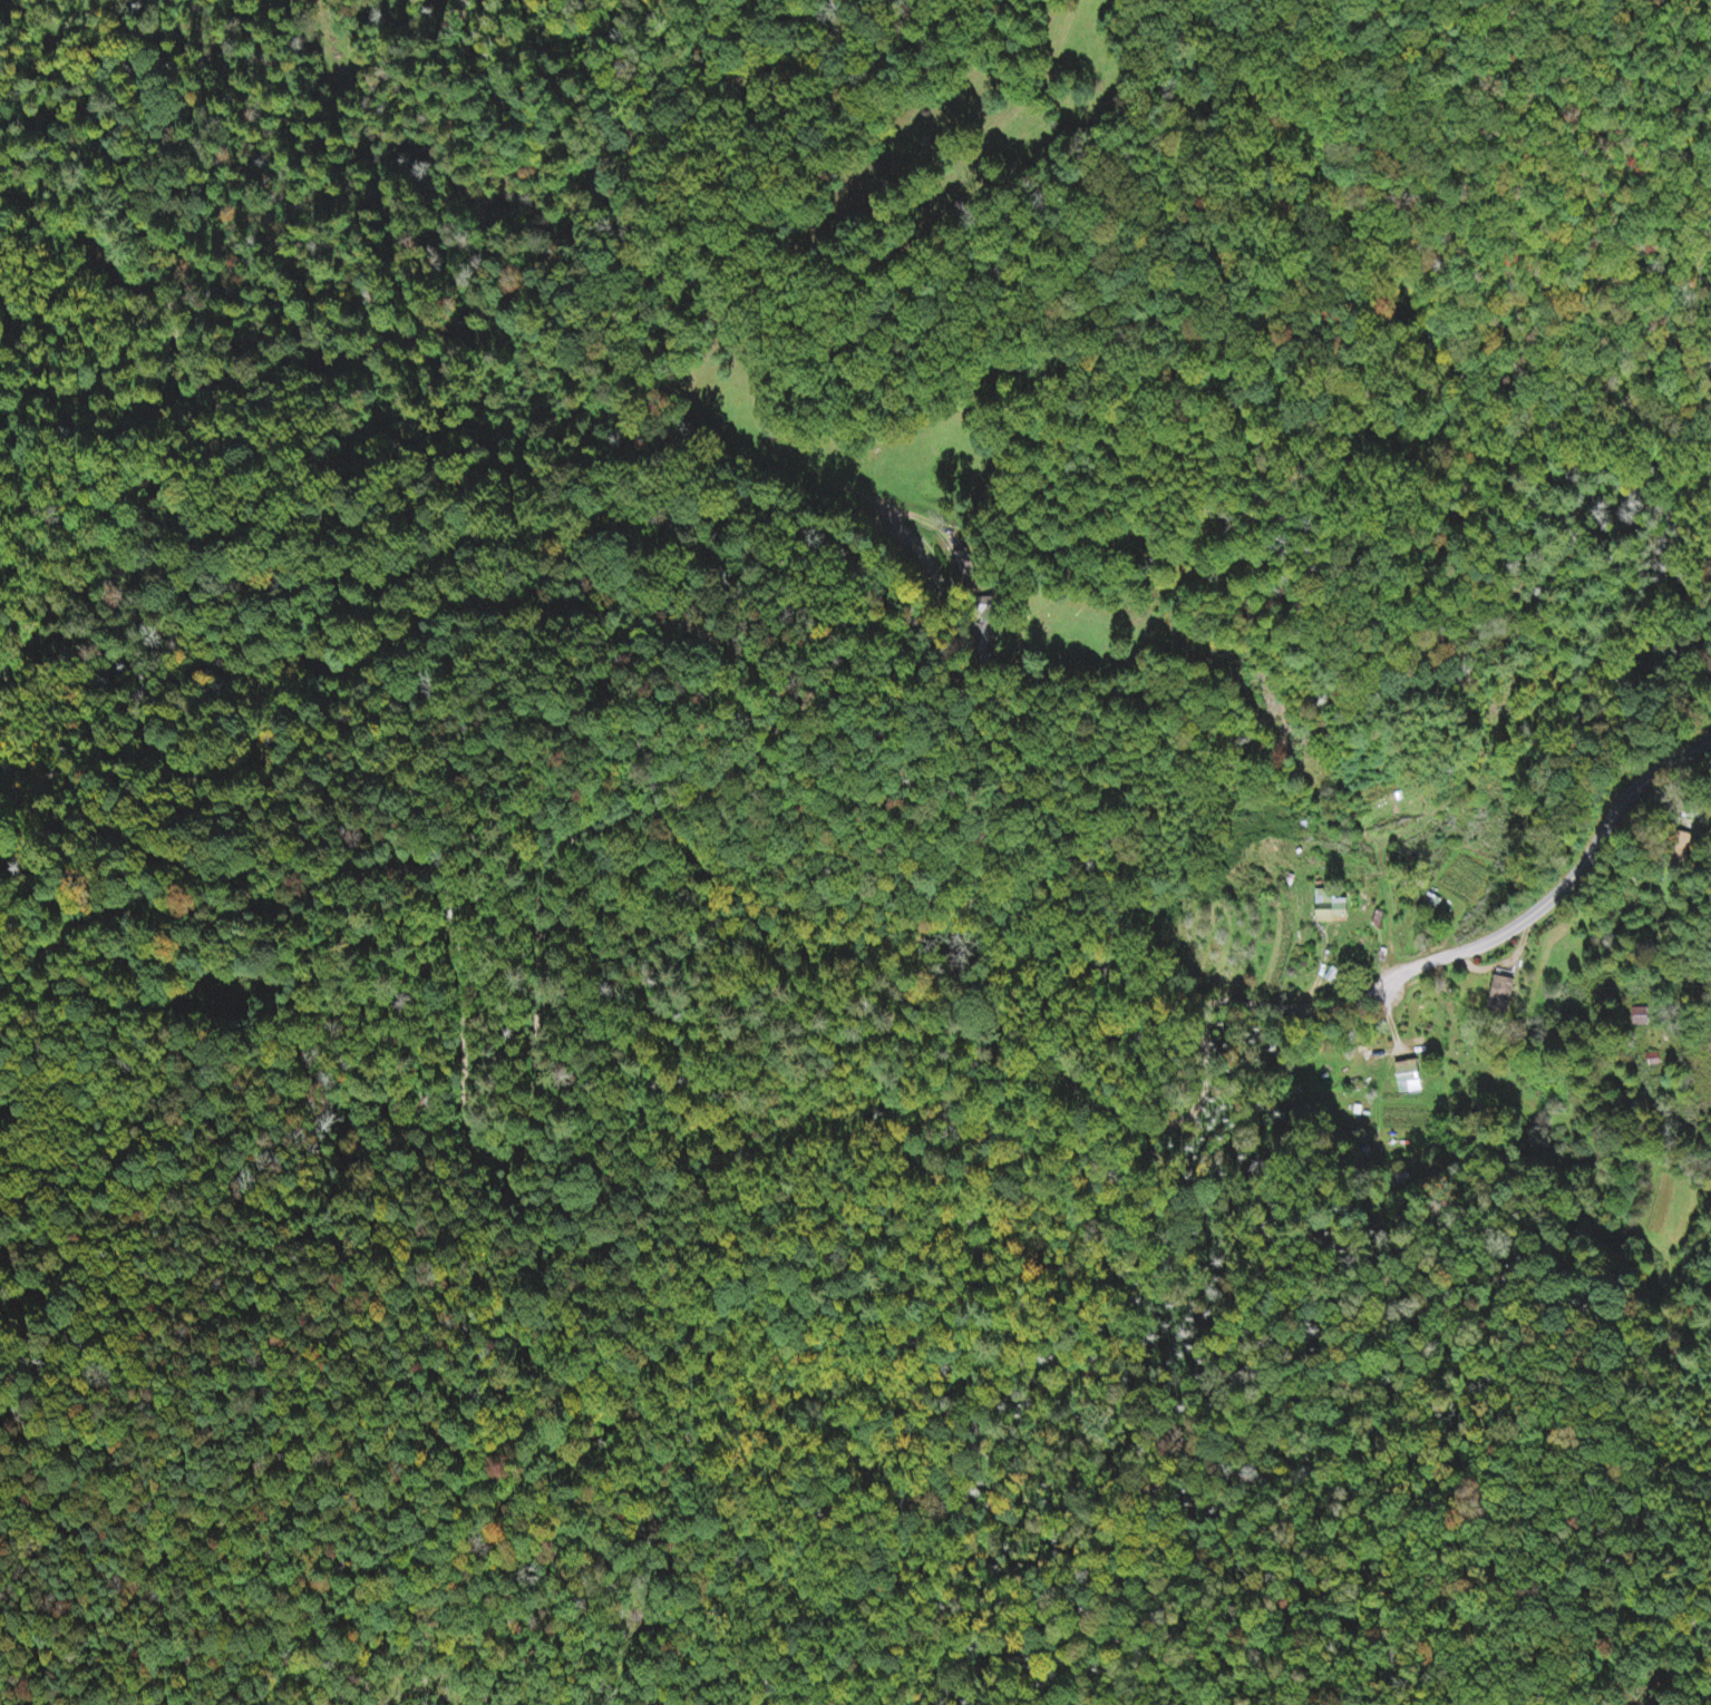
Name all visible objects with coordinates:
road: (723, 477)
road: (657, 809)
road: (1592, 854)
building: (1324, 905)
building: (1500, 995)
building: (1639, 1019)
building: (1406, 1081)

